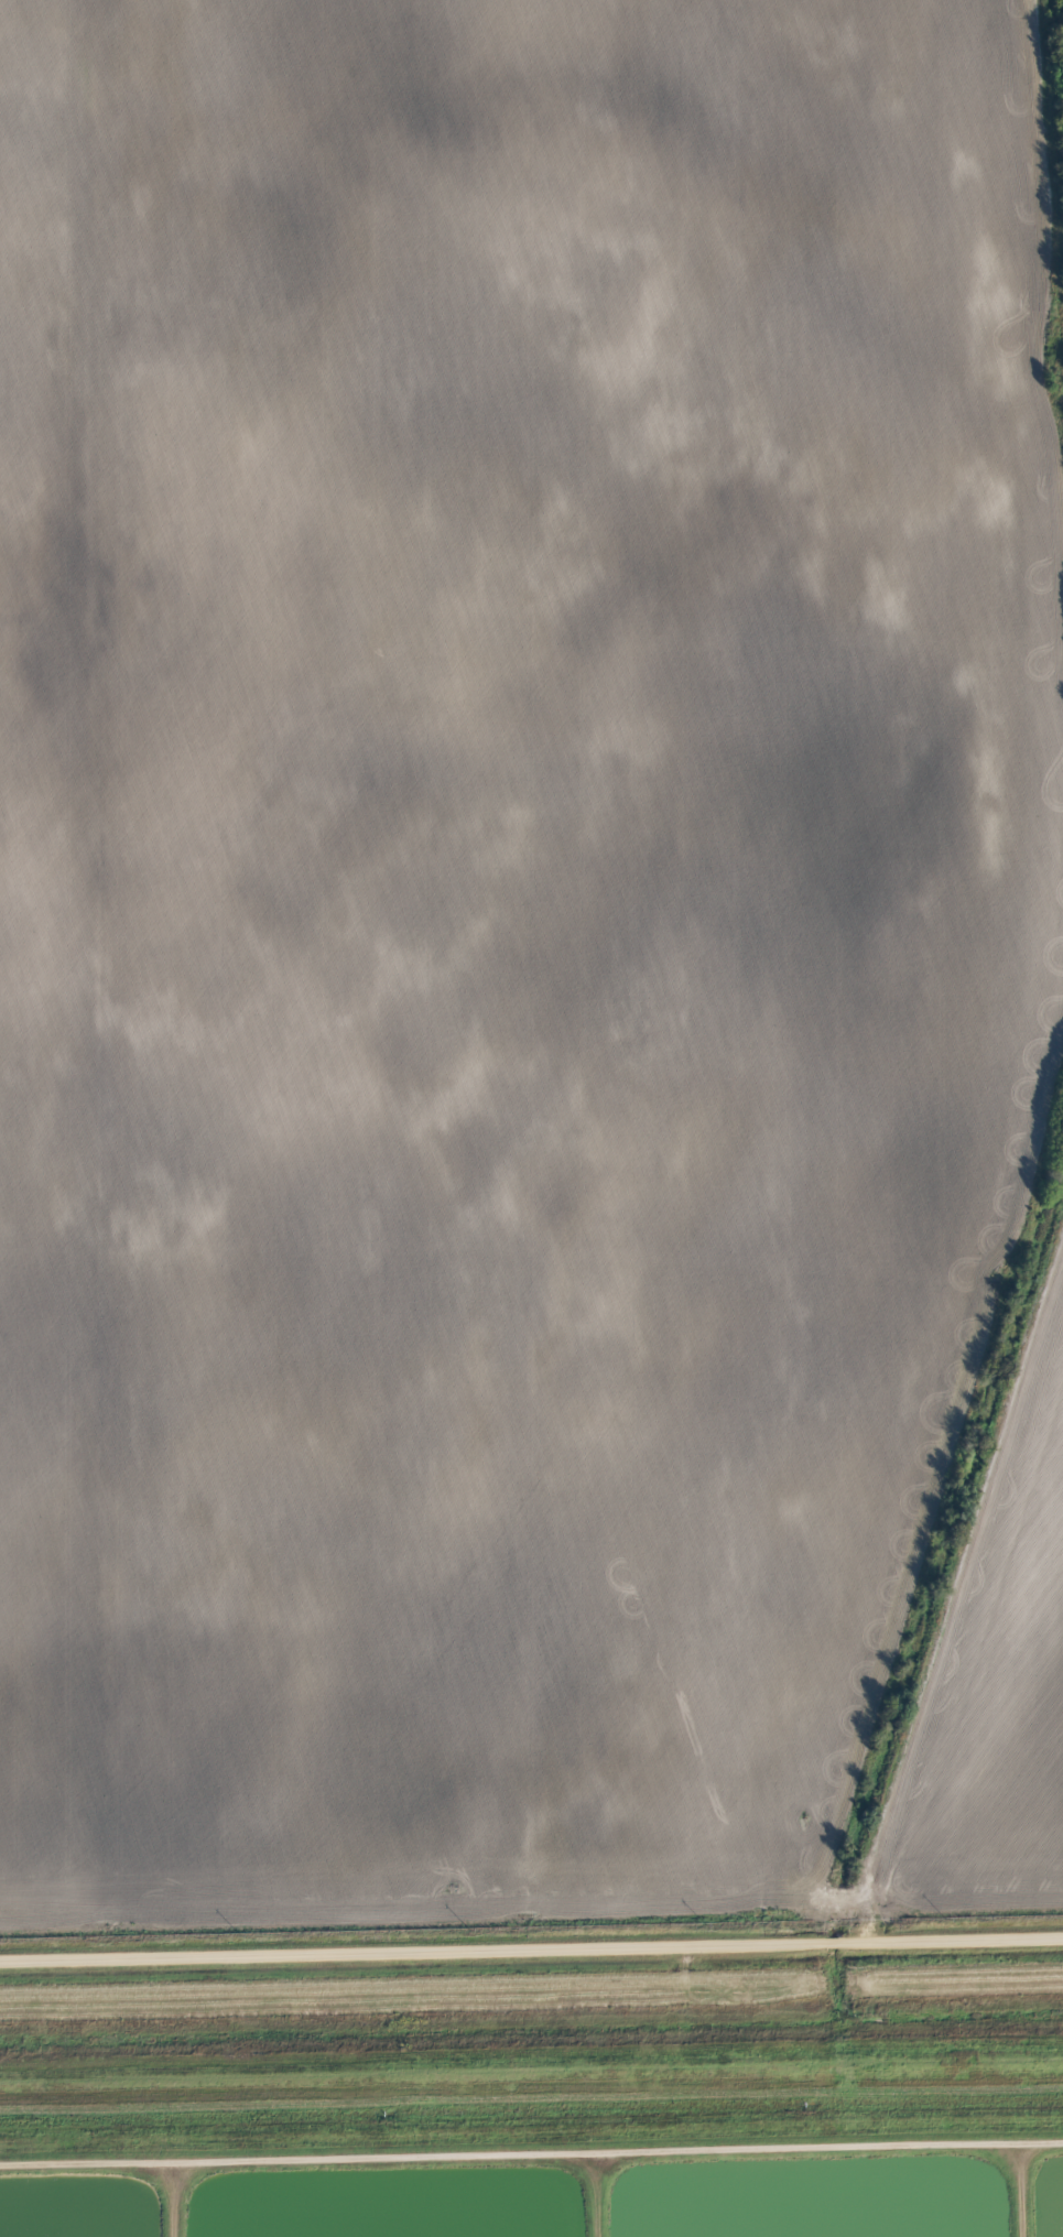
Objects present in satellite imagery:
road: (531, 1944)

